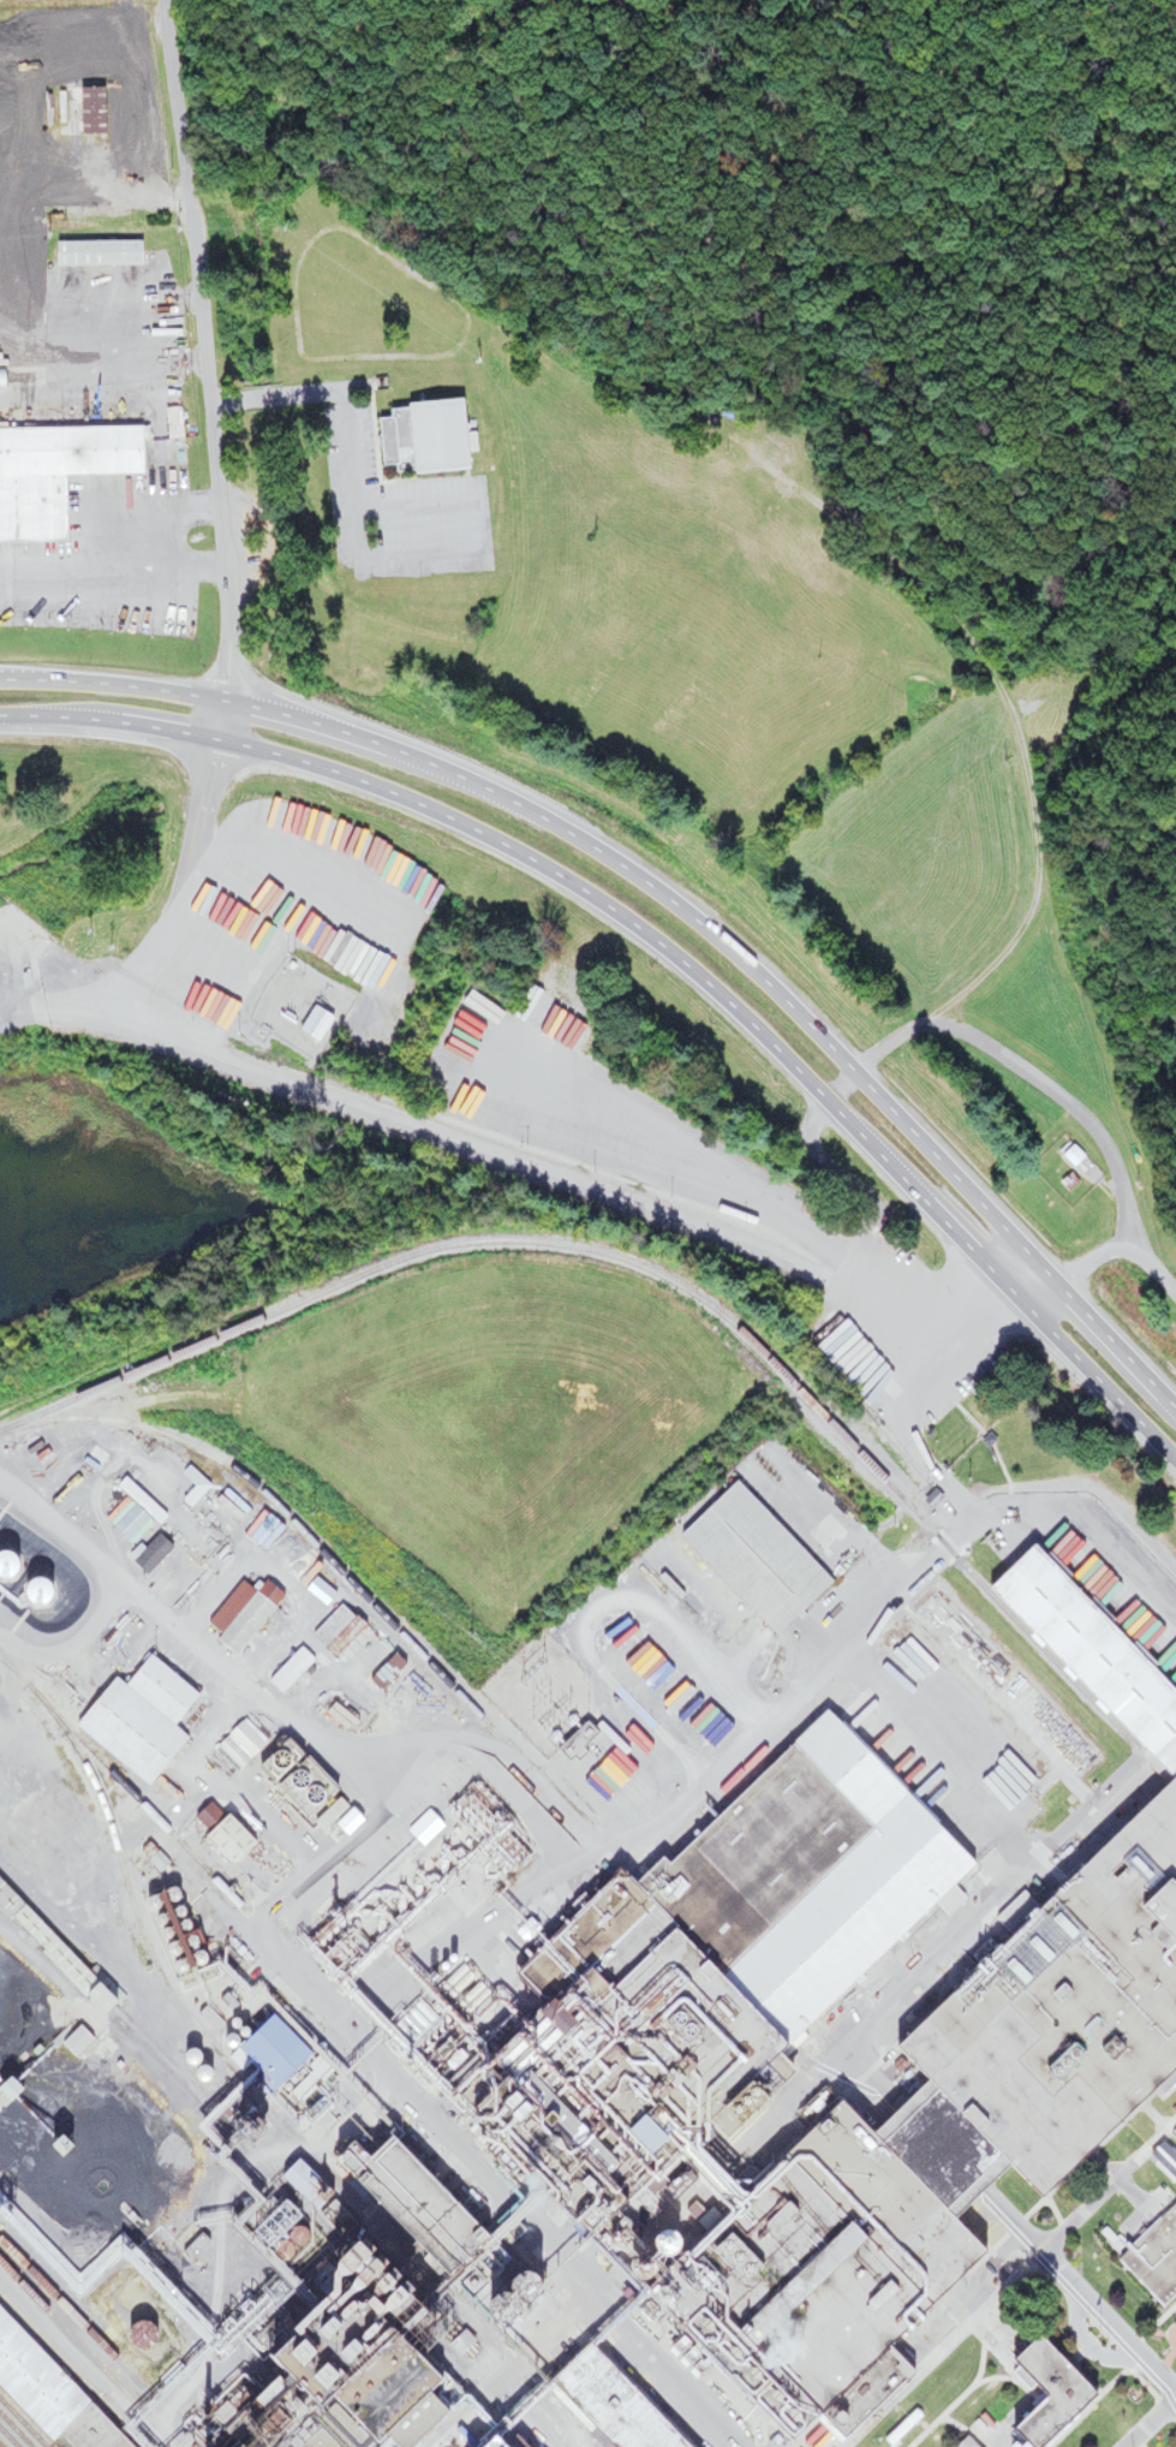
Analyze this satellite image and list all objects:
building: (86, 109)
building: (96, 252)
road: (207, 369)
road: (280, 398)
building: (423, 436)
building: (55, 474)
road: (1033, 802)
road: (669, 898)
road: (667, 949)
road: (1019, 1066)
building: (1067, 1183)
railway: (500, 1245)
road: (1005, 1322)
building: (38, 1484)
railway: (277, 1510)
building: (751, 1558)
building: (43, 1608)
building: (240, 1613)
building: (333, 1631)
building: (287, 1671)
building: (136, 1717)
building: (229, 1754)
road: (539, 1785)
railway: (144, 1806)
building: (334, 1820)
building: (423, 1828)
building: (225, 1839)
railway: (124, 1880)
building: (768, 1897)
building: (6, 1900)
building: (269, 2052)
railway: (154, 2053)
building: (963, 2074)
road: (406, 2098)
road: (763, 2119)
building: (378, 2167)
building: (312, 2251)
building: (1152, 2256)
building: (339, 2354)
railway: (86, 2357)
road: (79, 2366)
building: (896, 2372)
building: (1038, 2393)
building: (47, 2394)
railway: (14, 2429)
building: (961, 2442)

